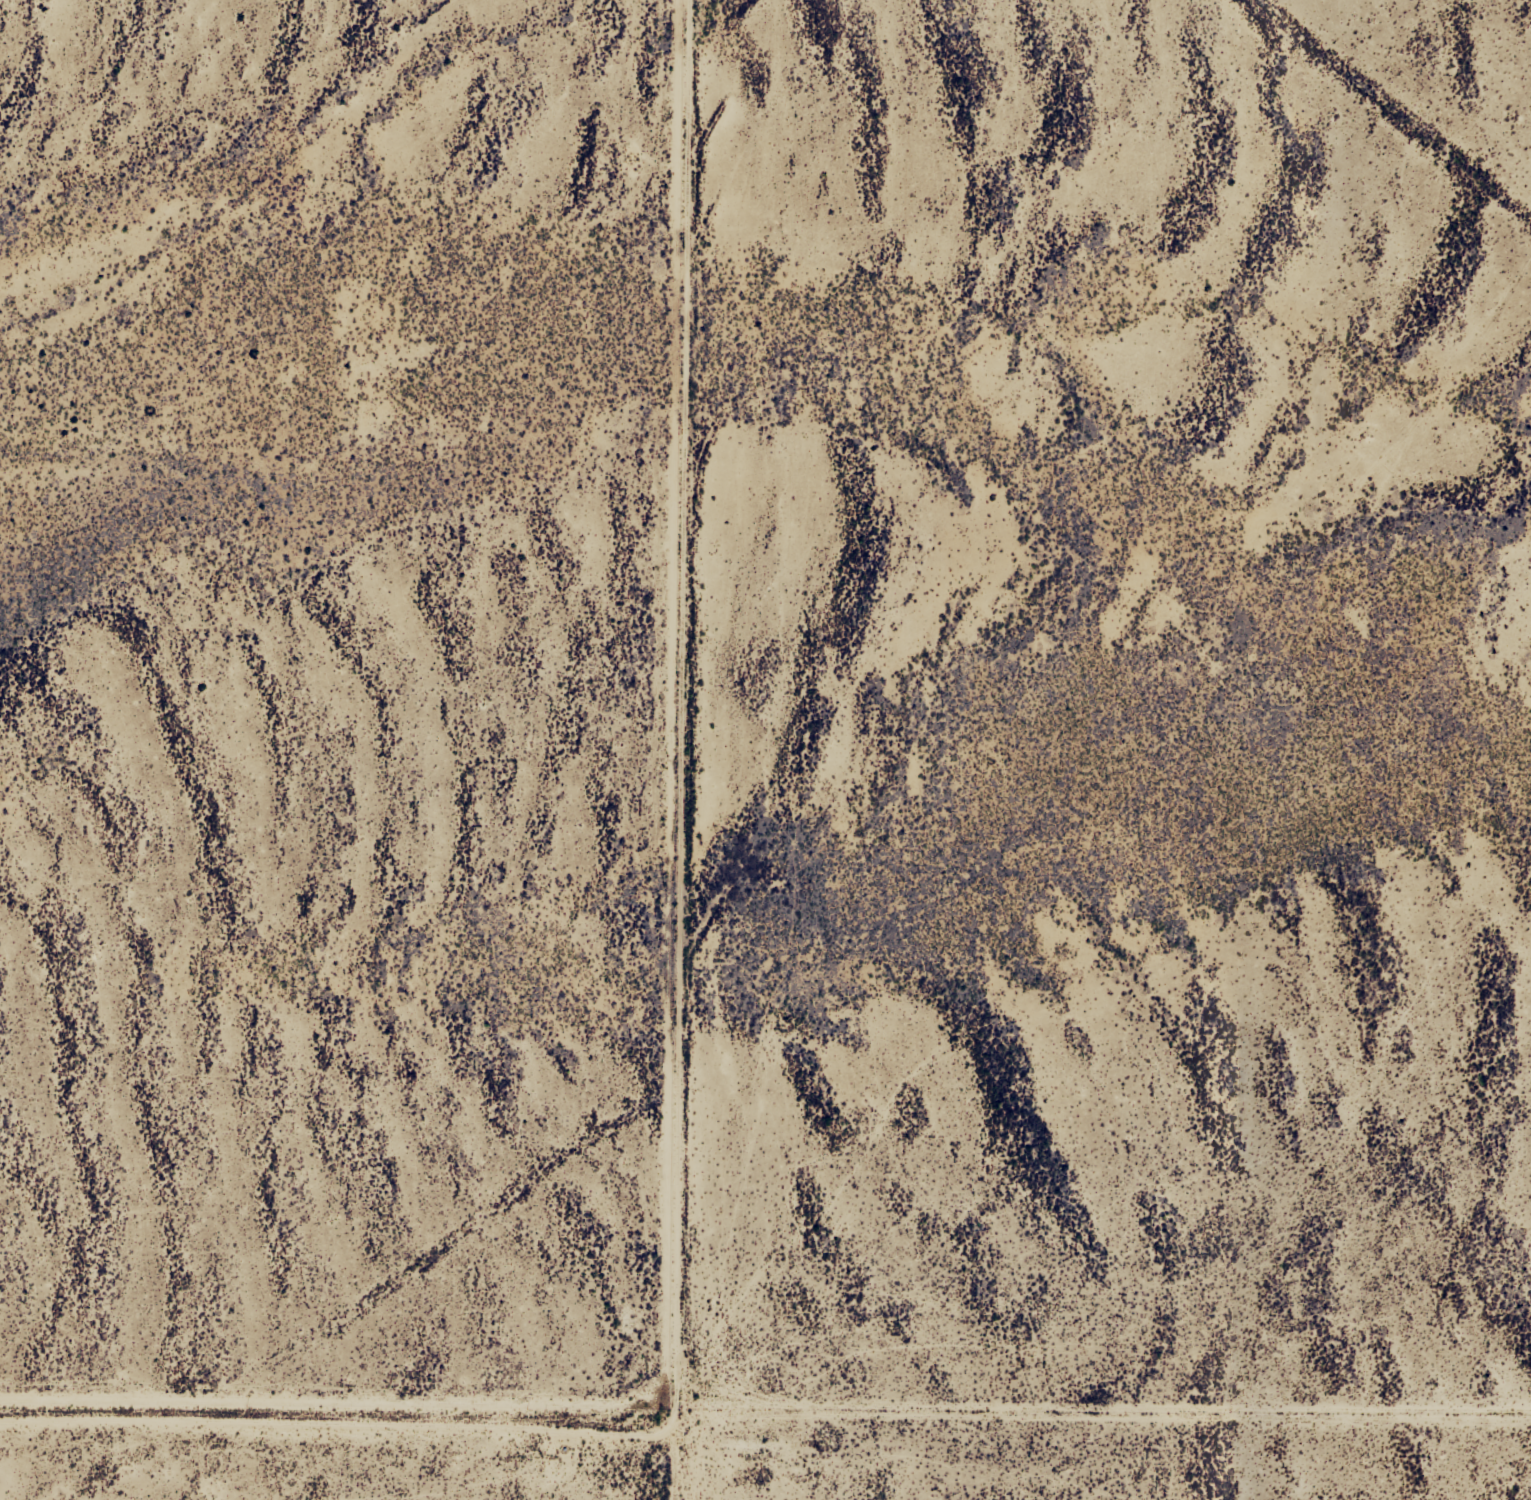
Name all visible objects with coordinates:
road: (644, 750)
road: (308, 1438)

